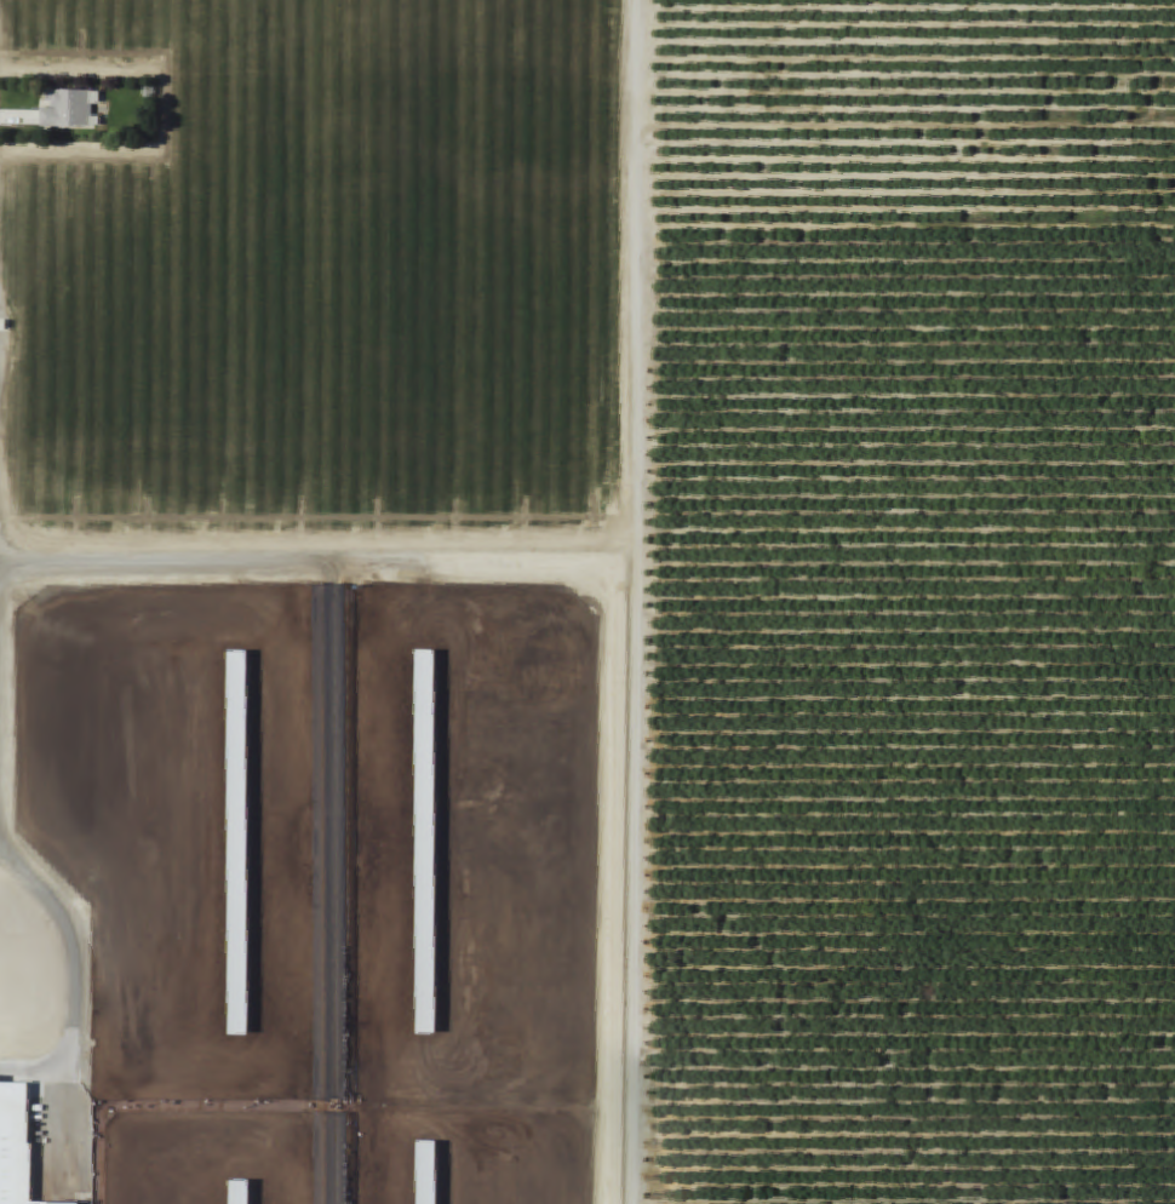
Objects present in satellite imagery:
building: (70, 109)
road: (315, 560)
road: (630, 602)
building: (237, 734)
building: (425, 842)
building: (237, 991)
building: (15, 1143)
building: (426, 1173)
building: (240, 1192)

